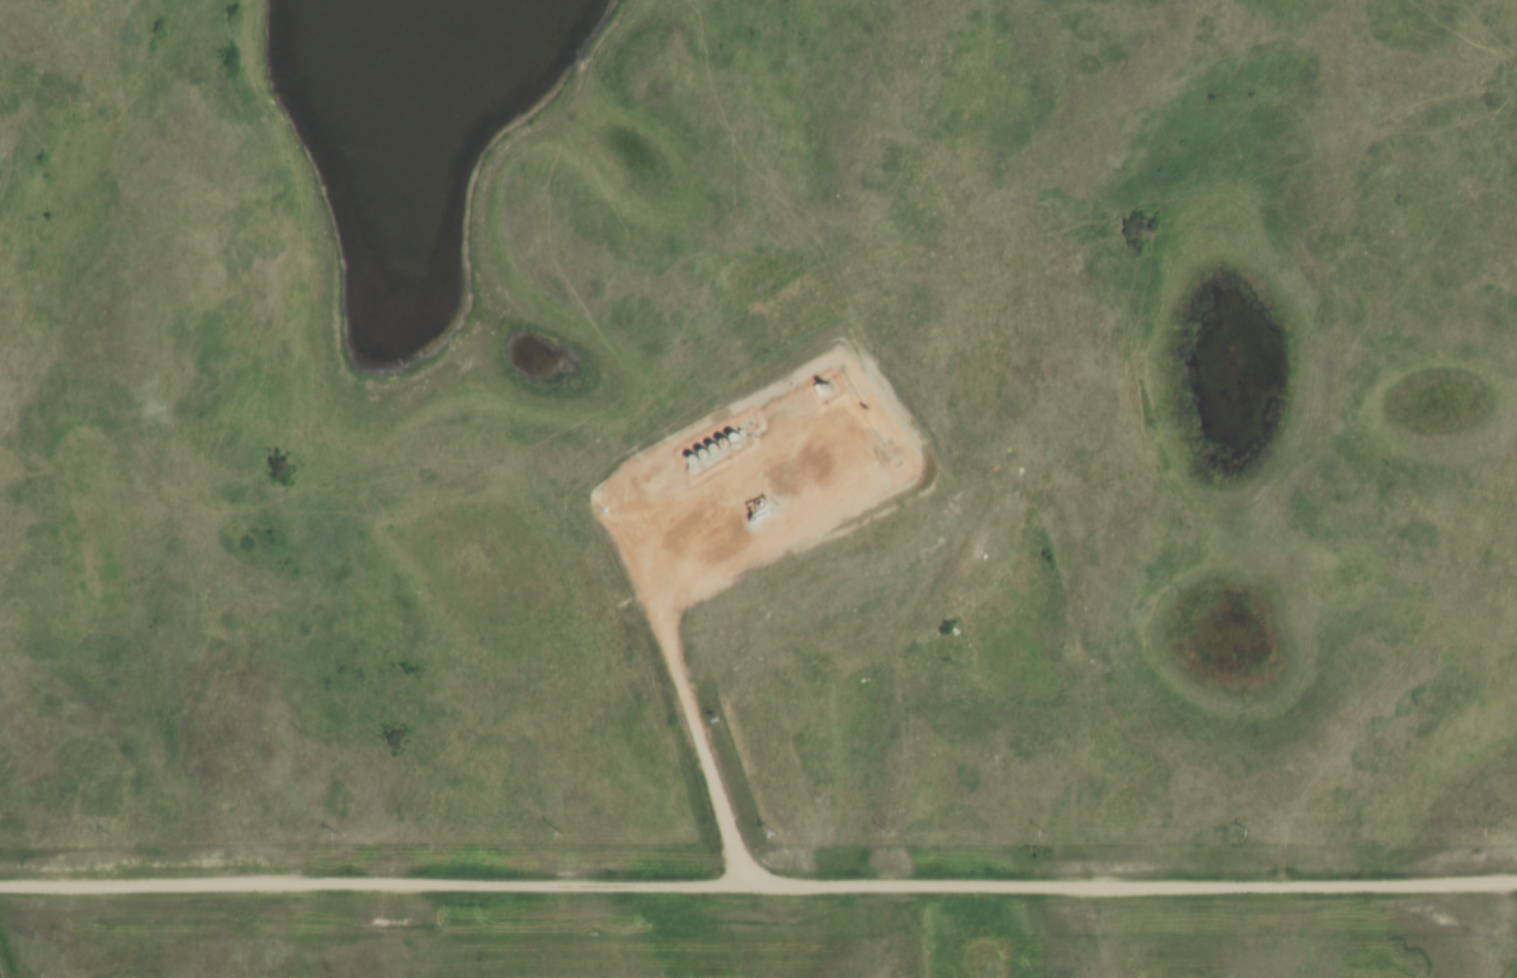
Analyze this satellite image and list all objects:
road: (669, 602)
road: (378, 882)
road: (1137, 884)

